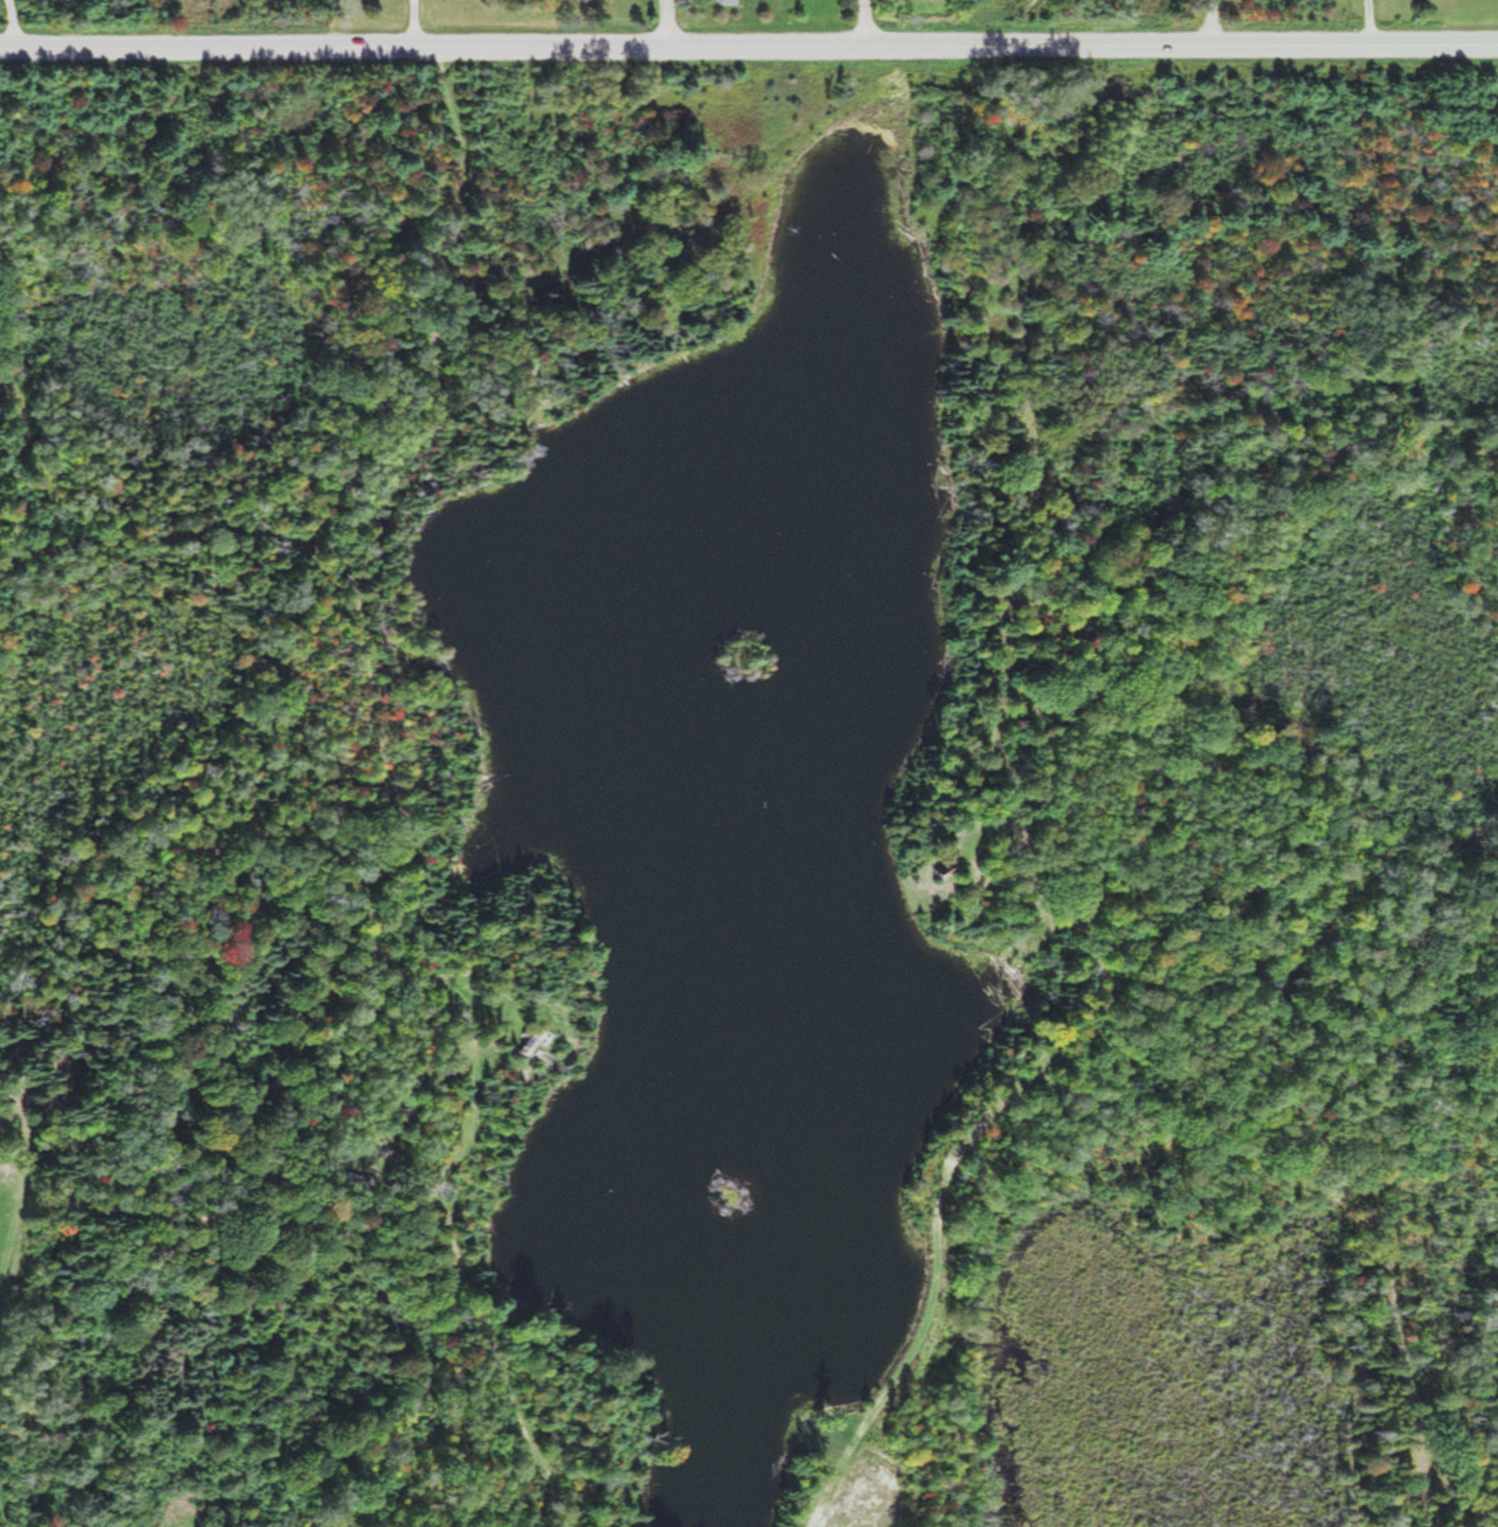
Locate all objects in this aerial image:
building: (721, 1)
road: (668, 19)
road: (869, 19)
road: (26, 22)
road: (748, 38)

